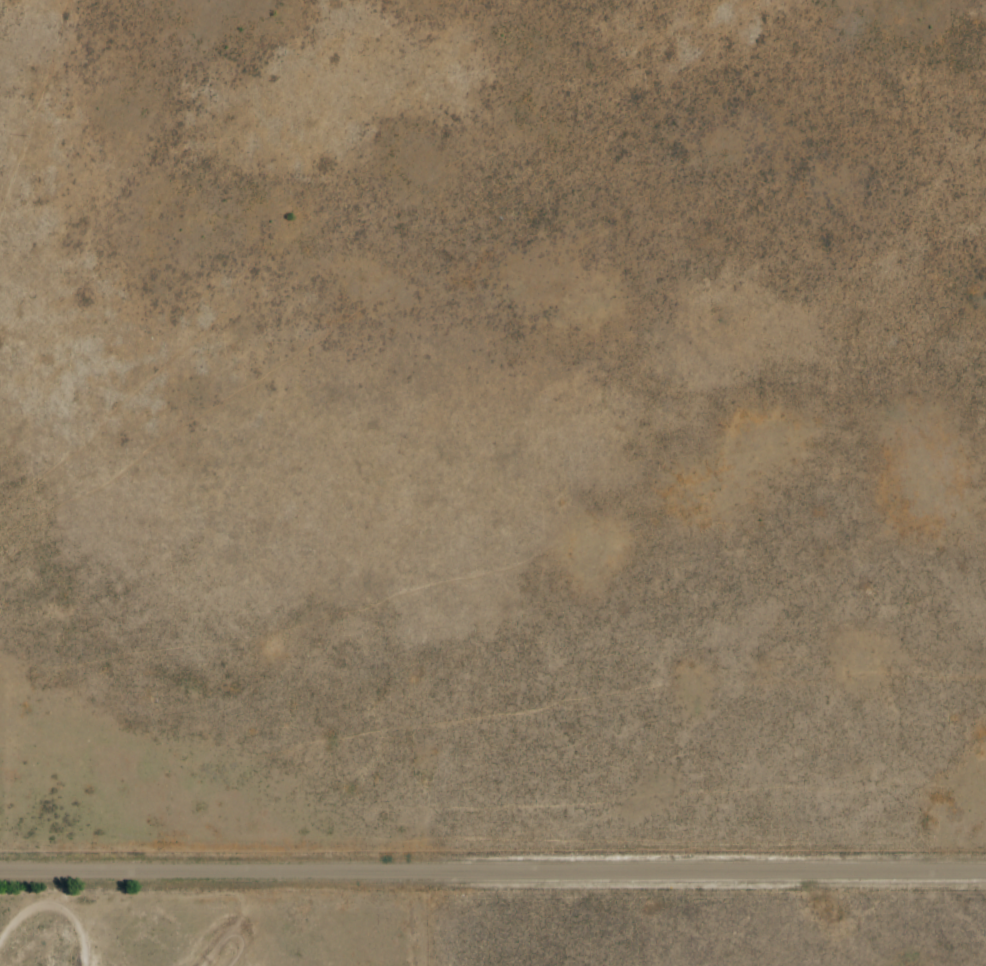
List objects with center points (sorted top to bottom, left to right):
road: (493, 881)

